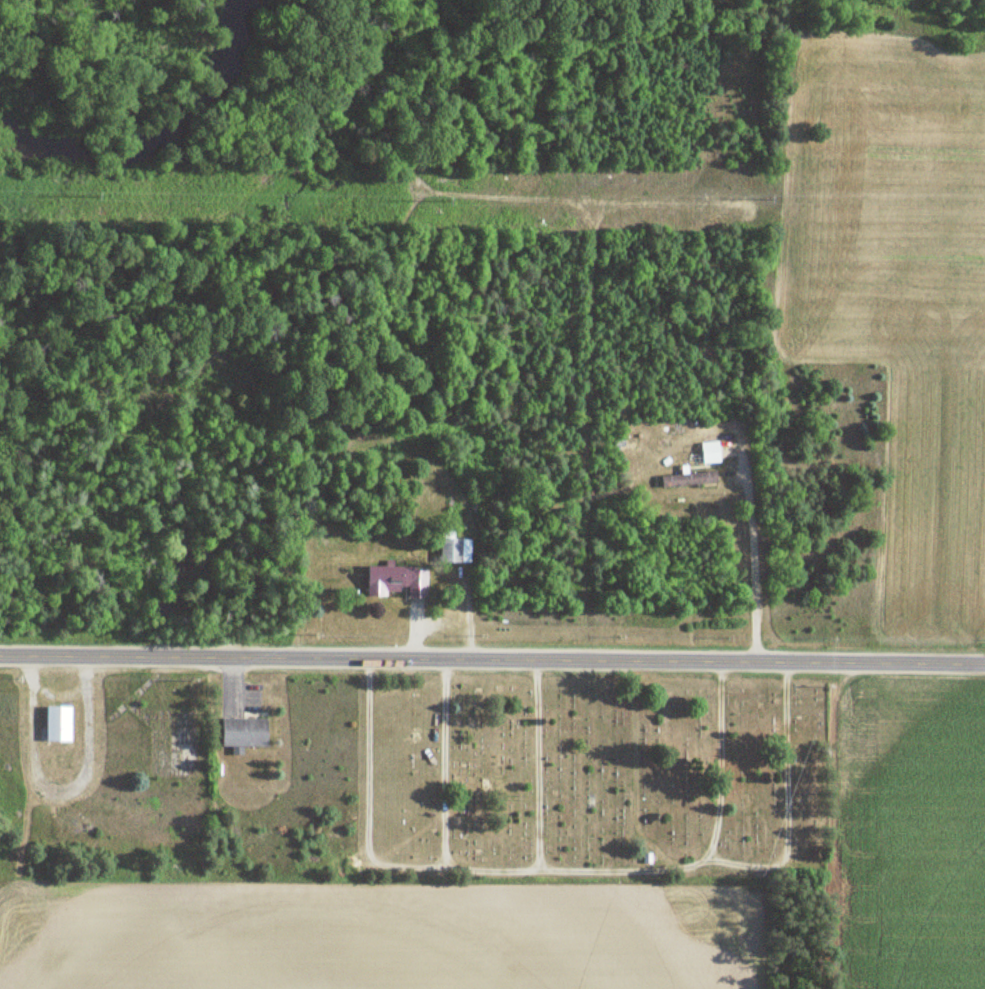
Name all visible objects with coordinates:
river: (153, 132)
building: (713, 451)
building: (691, 478)
building: (456, 550)
road: (746, 551)
building: (398, 582)
road: (492, 661)
building: (61, 723)
building: (246, 731)
park: (583, 774)

